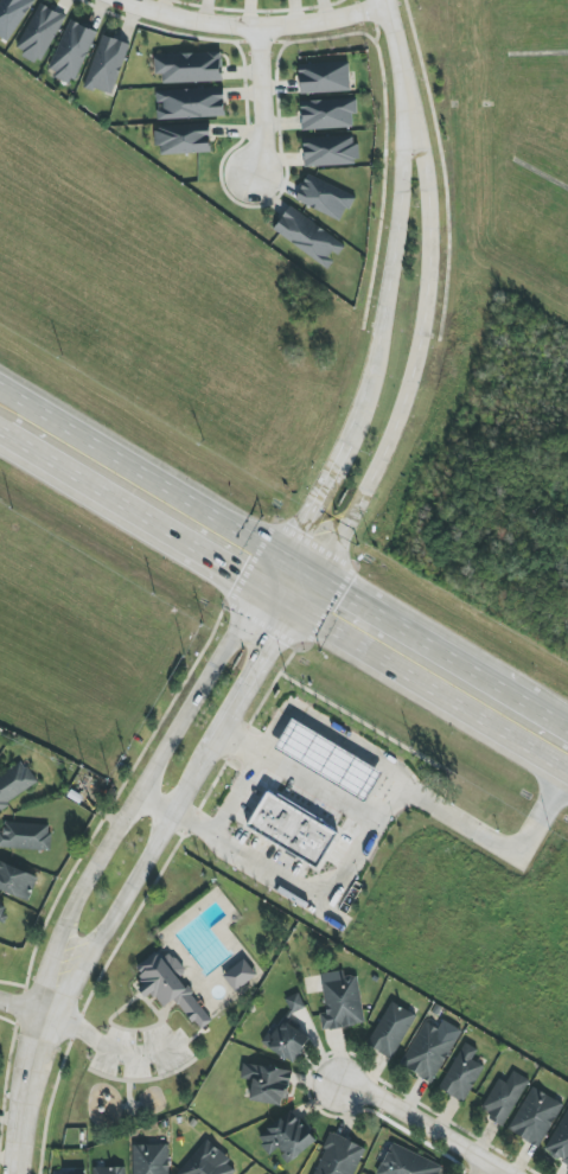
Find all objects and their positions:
building: (12, 15)
road: (255, 25)
building: (40, 33)
road: (395, 33)
building: (72, 52)
building: (106, 65)
building: (190, 68)
building: (325, 77)
road: (262, 98)
building: (191, 103)
building: (328, 114)
building: (183, 139)
building: (330, 151)
building: (325, 198)
building: (309, 237)
road: (382, 324)
road: (420, 332)
road: (1, 433)
road: (132, 511)
traffic signals: (279, 559)
road: (282, 561)
road: (269, 574)
traffic signals: (313, 578)
traffic signals: (260, 589)
traffic signals: (294, 610)
road: (414, 681)
road: (281, 714)
building: (328, 760)
road: (295, 777)
building: (15, 784)
road: (136, 795)
road: (183, 798)
road: (155, 803)
building: (293, 829)
building: (25, 836)
road: (494, 844)
road: (355, 846)
road: (254, 867)
building: (17, 881)
building: (240, 975)
building: (171, 988)
building: (342, 1001)
road: (21, 1007)
building: (391, 1031)
building: (287, 1042)
road: (107, 1047)
building: (428, 1052)
building: (462, 1074)
building: (267, 1084)
road: (27, 1092)
building: (504, 1098)
building: (535, 1117)
road: (420, 1125)
building: (287, 1137)
building: (560, 1142)
building: (339, 1156)
building: (151, 1159)
building: (407, 1162)
road: (483, 1169)
building: (109, 1170)

